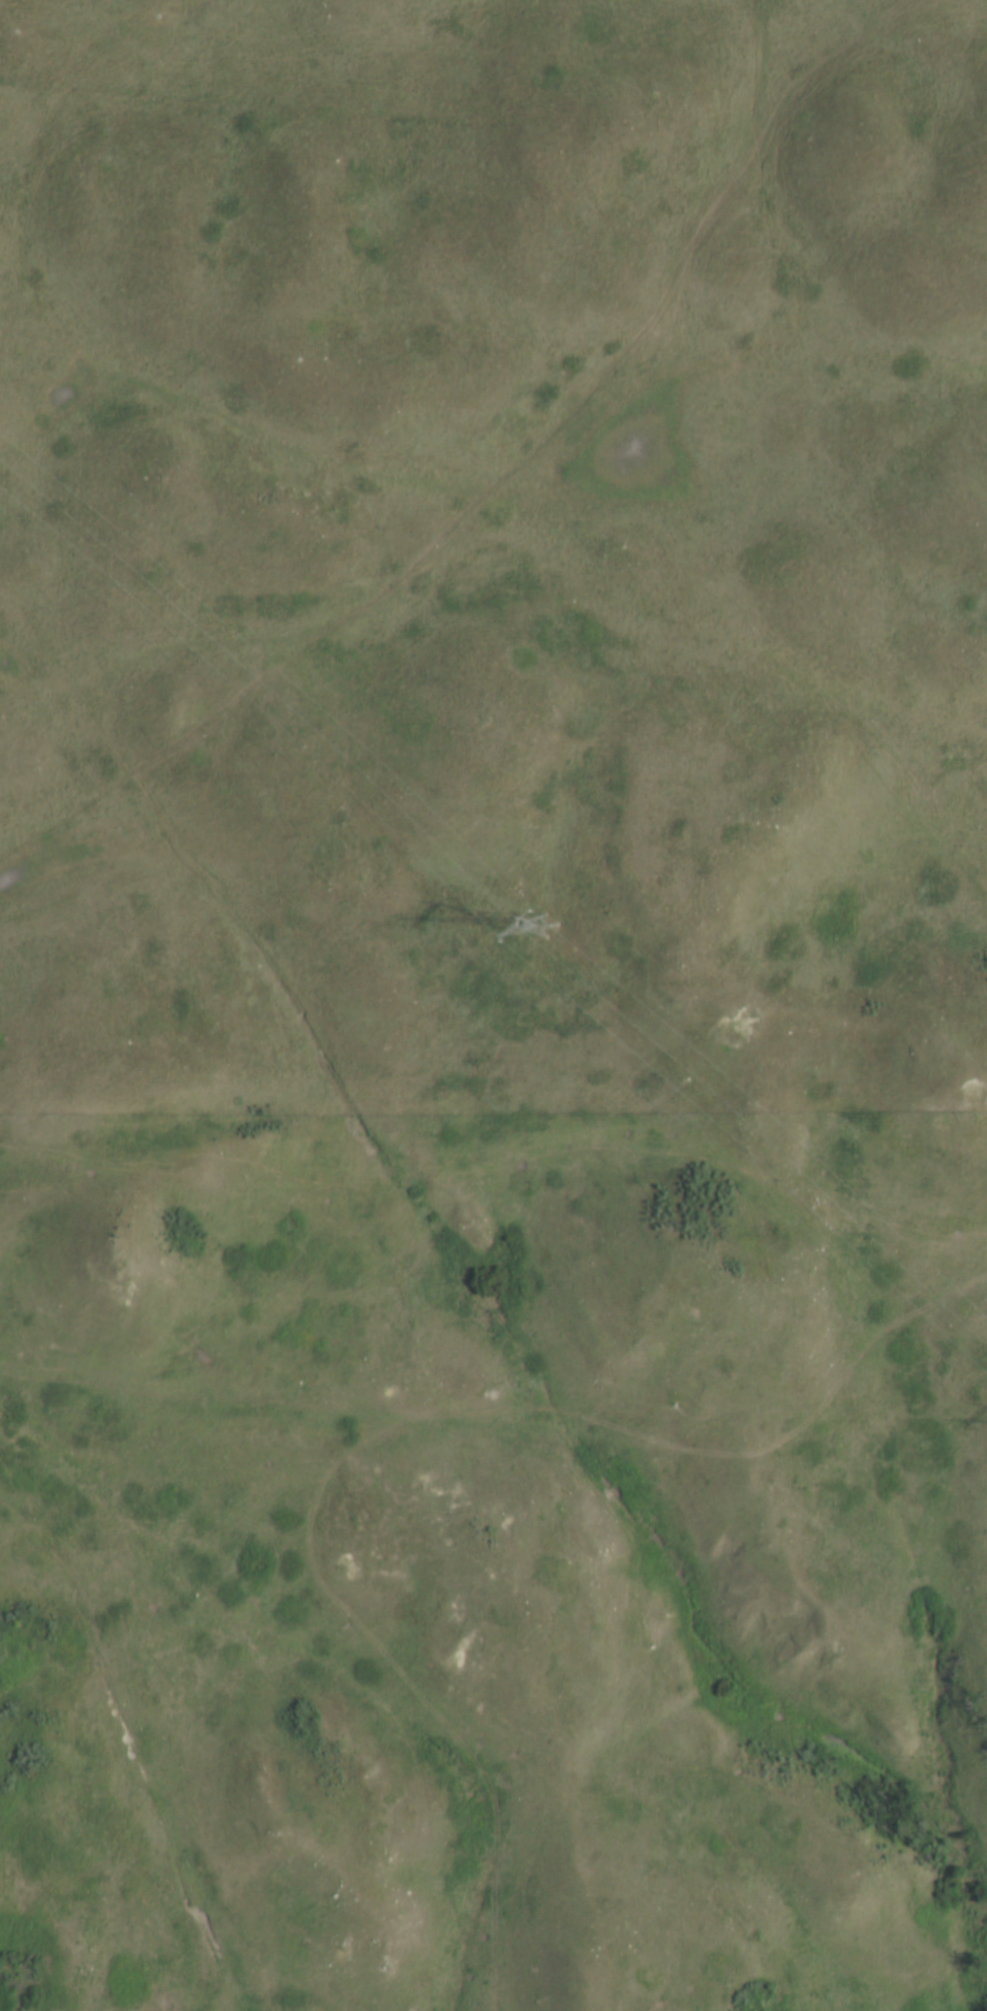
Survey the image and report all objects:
power tower: (543, 922)

